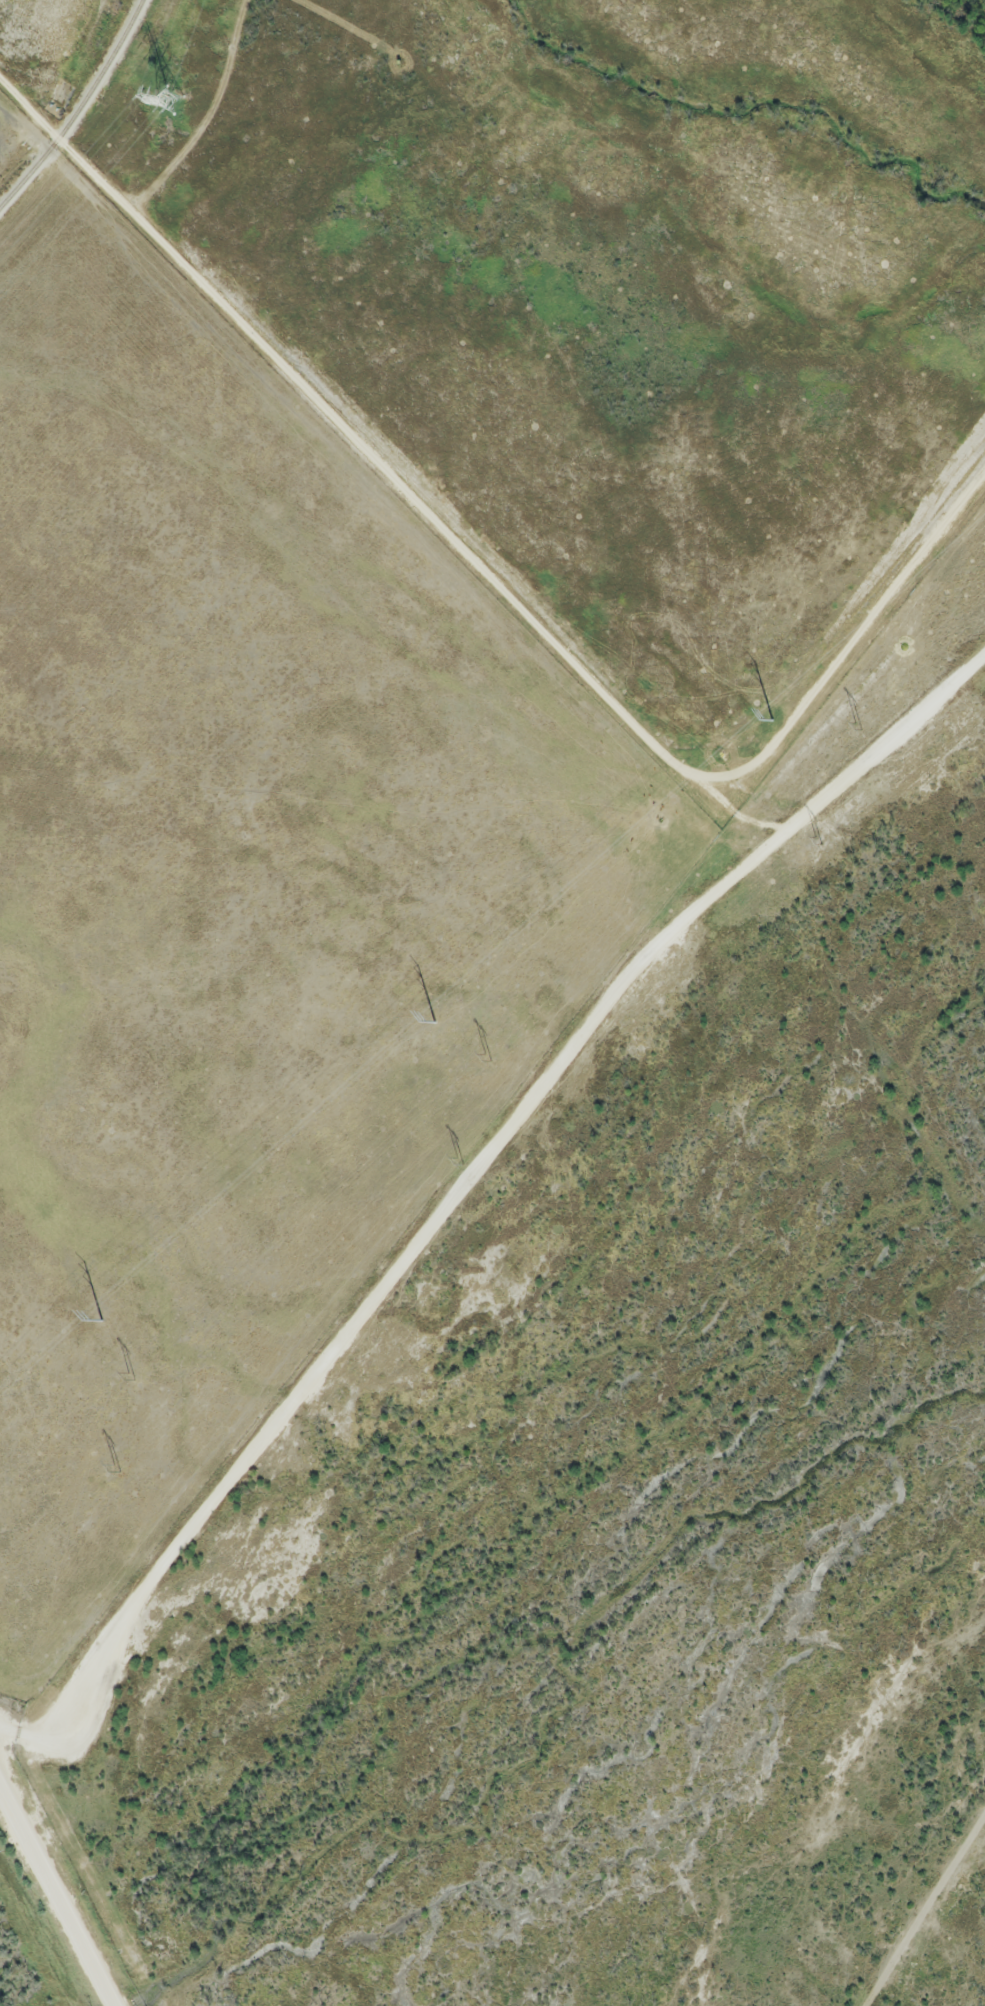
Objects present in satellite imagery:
power tower: (171, 101)
railway: (78, 111)
power tower: (773, 721)
power tower: (862, 732)
power tower: (817, 840)
power tower: (434, 1023)
power tower: (484, 1057)
power tower: (460, 1156)
road: (471, 1172)
power tower: (99, 1319)
power tower: (125, 1380)
power tower: (118, 1463)
road: (58, 1895)

